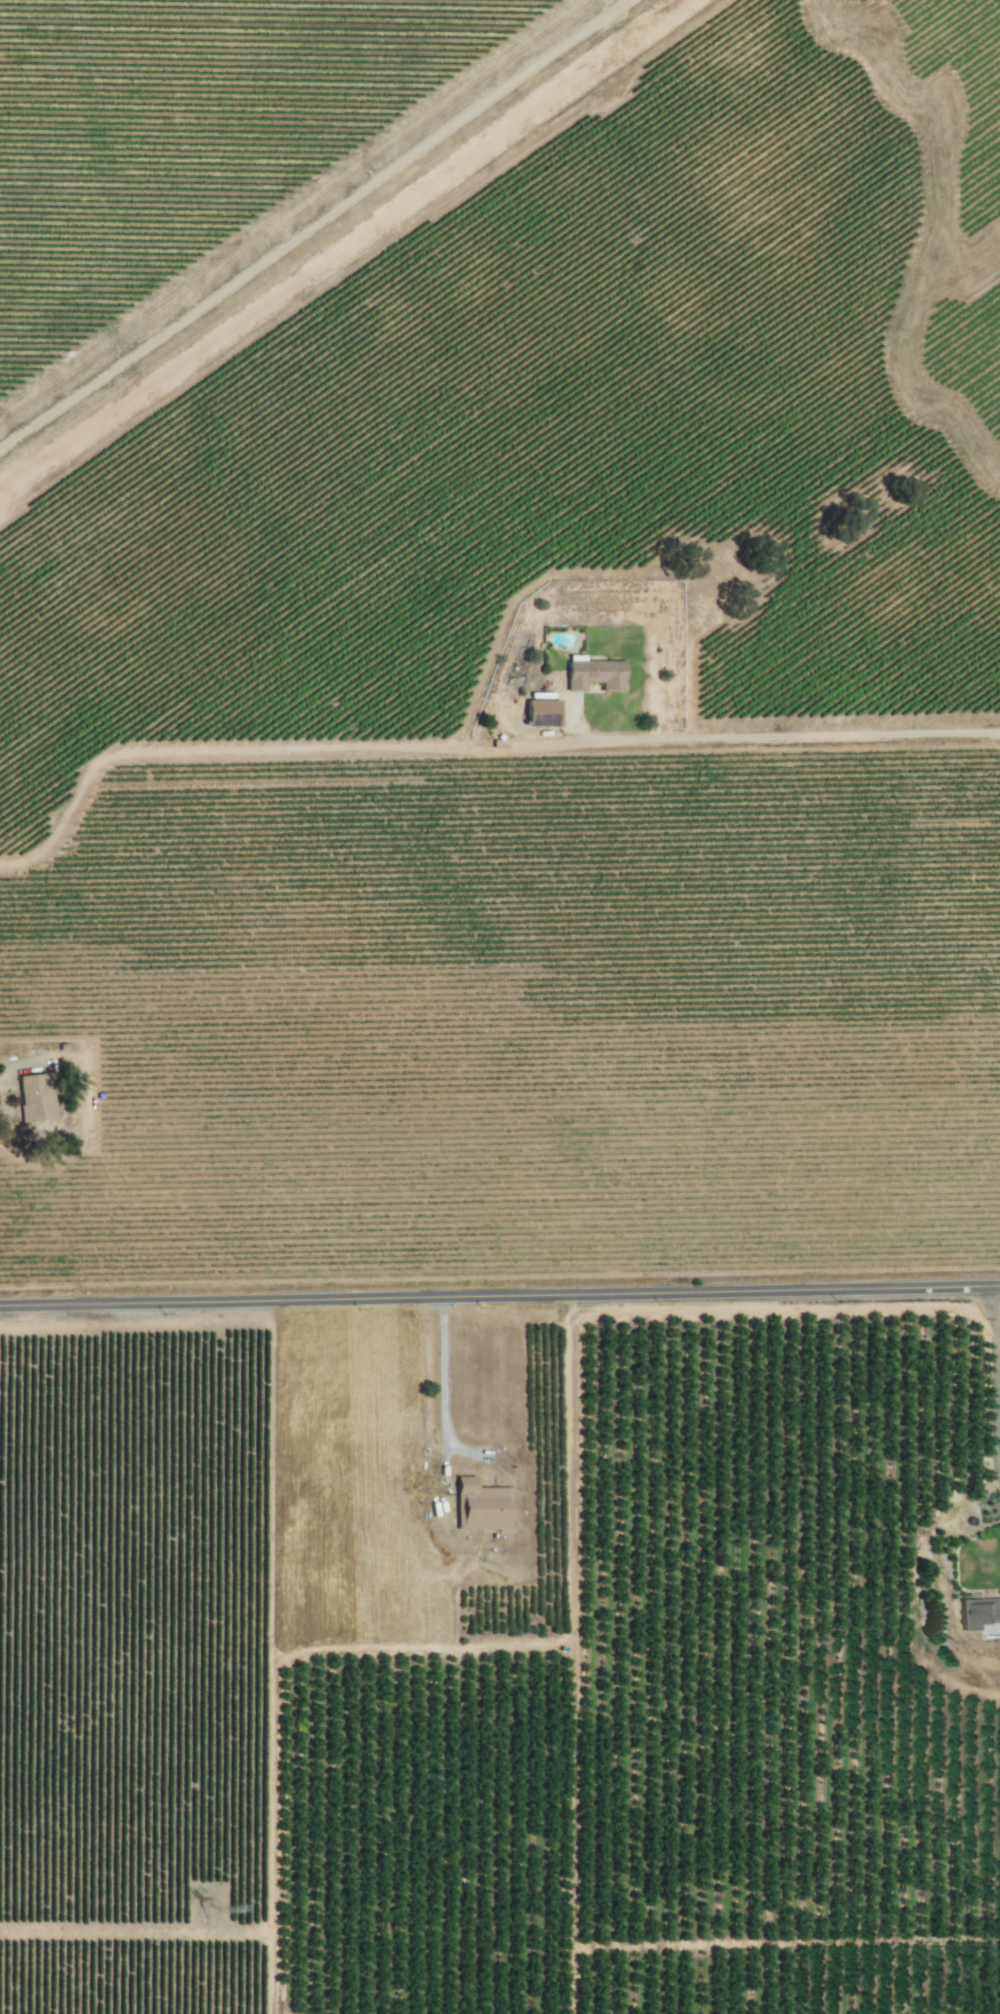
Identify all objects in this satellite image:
road: (318, 228)
building: (597, 673)
building: (38, 1097)
road: (499, 1293)
road: (992, 1383)
road: (441, 1389)
road: (467, 1447)
road: (567, 1470)
building: (981, 1613)
power tower: (217, 1912)
road: (788, 1930)
road: (576, 1977)

